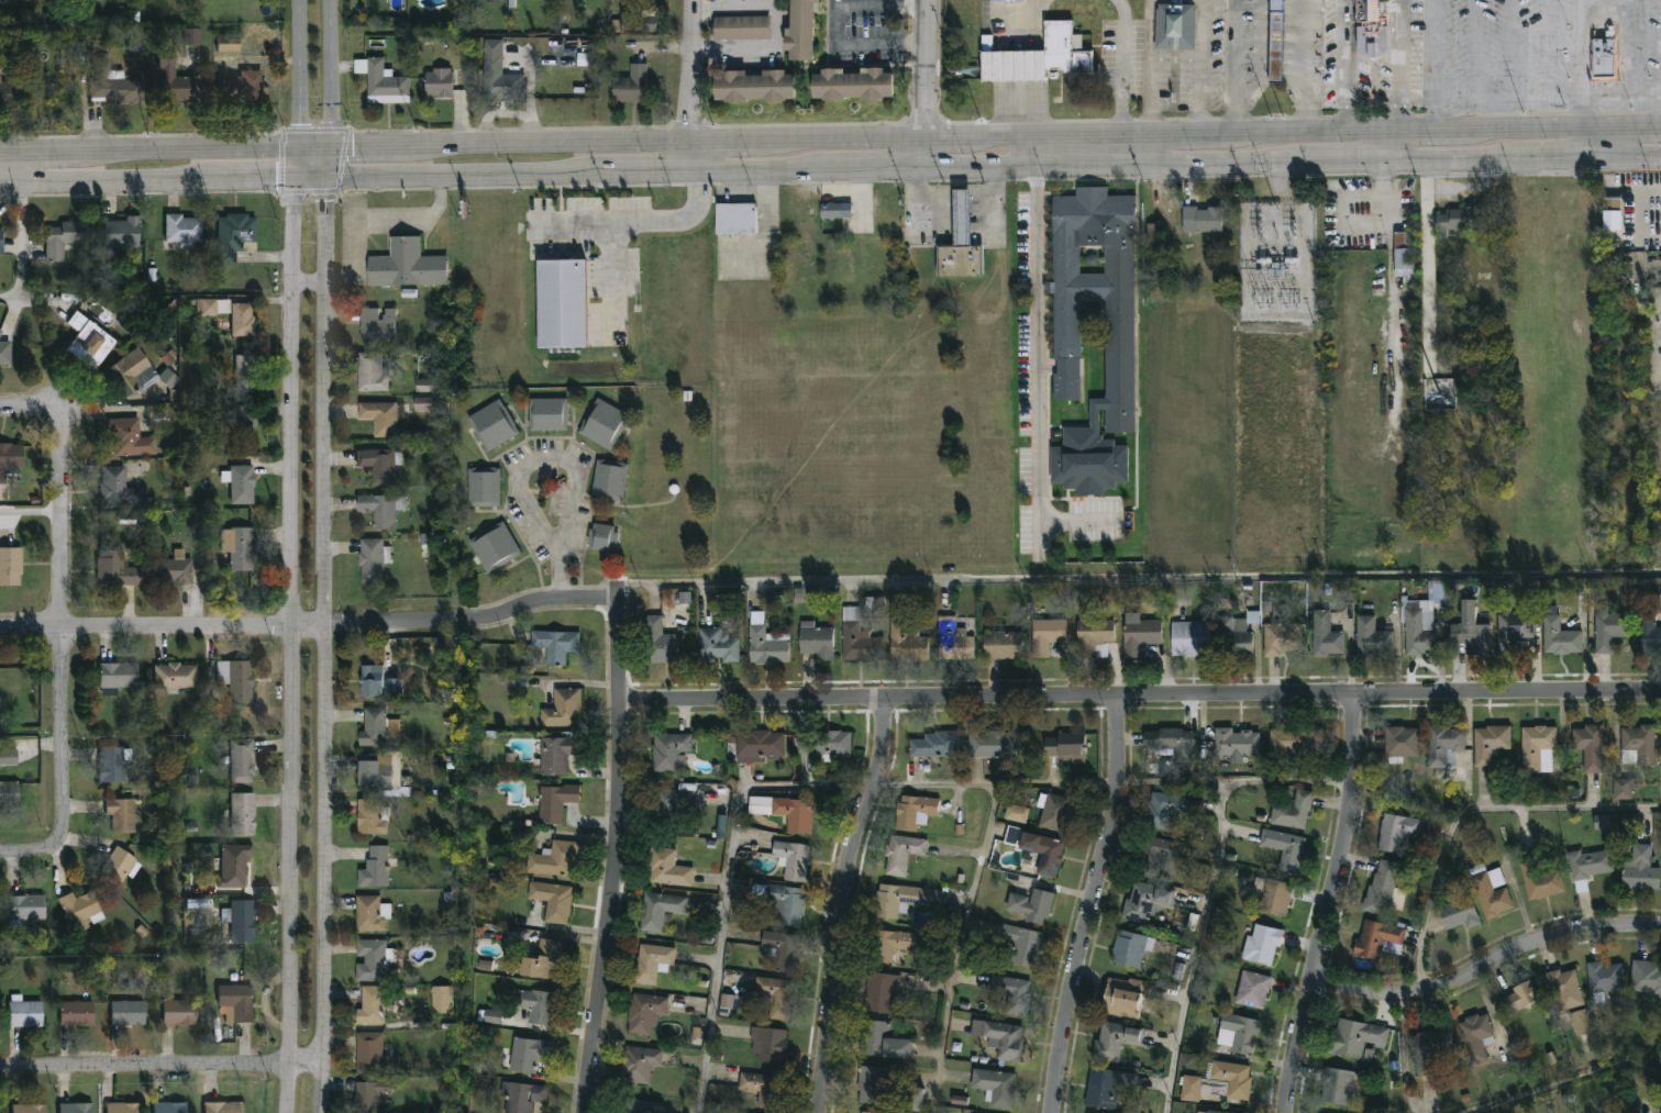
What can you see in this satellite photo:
building: (497, 0)
building: (1006, 1)
road: (1027, 15)
building: (649, 24)
road: (778, 26)
road: (835, 26)
building: (1173, 26)
building: (742, 29)
building: (800, 29)
building: (1370, 29)
building: (192, 36)
building: (1276, 41)
building: (231, 42)
road: (1630, 49)
road: (1550, 52)
road: (1435, 53)
road: (1475, 53)
road: (1514, 53)
building: (1602, 53)
building: (1041, 56)
parking lot: (1532, 56)
road: (1347, 65)
road: (1121, 66)
road: (1151, 66)
road: (1304, 66)
road: (1204, 67)
road: (1403, 67)
road: (1583, 67)
road: (1254, 68)
road: (299, 73)
road: (329, 73)
building: (502, 75)
building: (241, 79)
building: (113, 80)
building: (386, 81)
building: (443, 81)
building: (175, 82)
building: (851, 82)
road: (923, 84)
building: (629, 85)
road: (690, 85)
building: (753, 85)
building: (5, 88)
road: (1623, 100)
road: (1374, 101)
road: (1494, 105)
road: (1436, 119)
road: (1585, 129)
road: (1402, 130)
road: (995, 136)
traffic signals: (330, 146)
traffic signals: (299, 147)
road: (165, 149)
road: (1623, 155)
road: (1555, 156)
road: (1454, 158)
road: (1342, 159)
road: (328, 160)
road: (297, 162)
road: (1109, 164)
road: (875, 167)
road: (762, 169)
road: (649, 170)
road: (451, 172)
traffic signals: (295, 176)
traffic signals: (326, 176)
road: (262, 177)
road: (113, 180)
road: (1277, 181)
road: (1386, 192)
building: (837, 210)
road: (373, 214)
road: (954, 215)
building: (732, 218)
building: (1199, 219)
building: (1455, 221)
road: (643, 222)
building: (186, 230)
building: (124, 231)
building: (1610, 231)
building: (237, 235)
building: (1154, 236)
building: (64, 237)
building: (2, 241)
building: (957, 242)
parking lot: (594, 244)
road: (22, 249)
building: (1403, 252)
building: (410, 265)
road: (310, 279)
building: (1094, 294)
building: (562, 303)
building: (213, 307)
road: (1269, 309)
building: (245, 319)
building: (381, 324)
building: (1, 332)
building: (92, 337)
road: (1039, 348)
building: (7, 353)
building: (132, 372)
building: (248, 372)
building: (375, 372)
building: (427, 385)
building: (423, 404)
road: (34, 405)
building: (552, 413)
building: (386, 416)
building: (604, 423)
building: (497, 424)
building: (247, 425)
building: (132, 437)
road: (523, 456)
building: (11, 458)
building: (383, 464)
building: (610, 480)
building: (244, 483)
building: (487, 487)
building: (121, 488)
building: (385, 509)
building: (1618, 509)
road: (33, 511)
building: (602, 537)
building: (241, 546)
building: (498, 547)
building: (376, 559)
building: (11, 566)
building: (120, 568)
building: (177, 569)
road: (65, 621)
building: (1421, 621)
road: (313, 625)
building: (1609, 628)
building: (1470, 631)
building: (1510, 631)
building: (1647, 631)
building: (1138, 634)
building: (1045, 635)
building: (1234, 635)
building: (1324, 635)
building: (1095, 636)
building: (1558, 636)
building: (1372, 637)
building: (856, 638)
building: (1188, 638)
building: (1280, 638)
building: (904, 639)
building: (952, 641)
building: (657, 642)
building: (815, 642)
building: (764, 643)
road: (292, 644)
road: (325, 644)
building: (1001, 644)
building: (560, 645)
building: (718, 646)
building: (178, 675)
building: (120, 676)
building: (240, 679)
building: (383, 682)
road: (1141, 697)
building: (566, 709)
building: (380, 727)
building: (1294, 739)
building: (1660, 739)
building: (1234, 742)
building: (1169, 743)
building: (817, 744)
building: (1399, 744)
building: (1488, 744)
building: (757, 745)
building: (934, 745)
building: (992, 745)
building: (1063, 746)
building: (1442, 746)
building: (1637, 746)
building: (1588, 747)
building: (1536, 748)
building: (669, 750)
building: (561, 754)
building: (8, 756)
building: (244, 759)
building: (115, 763)
building: (384, 770)
road: (994, 782)
building: (1621, 789)
building: (10, 793)
building: (558, 802)
building: (668, 806)
building: (1161, 810)
road: (1468, 810)
building: (1292, 811)
building: (912, 812)
building: (1053, 812)
building: (1017, 813)
building: (124, 814)
building: (246, 814)
building: (793, 815)
building: (375, 816)
building: (1603, 822)
building: (1395, 832)
building: (1012, 835)
building: (1283, 848)
road: (40, 850)
building: (1041, 853)
building: (901, 854)
road: (617, 856)
building: (1154, 856)
building: (557, 859)
building: (790, 859)
building: (234, 865)
building: (122, 866)
building: (1586, 867)
building: (378, 868)
building: (666, 868)
building: (1639, 870)
building: (1539, 882)
road: (723, 887)
building: (1380, 888)
road: (1209, 889)
building: (1491, 893)
building: (1271, 897)
building: (901, 900)
building: (556, 901)
building: (780, 902)
building: (1144, 902)
road: (843, 903)
road: (1093, 904)
road: (1327, 904)
building: (1030, 905)
building: (27, 908)
building: (84, 910)
building: (660, 911)
building: (1458, 912)
building: (374, 913)
building: (243, 921)
building: (1377, 941)
building: (1018, 943)
building: (892, 944)
building: (1261, 945)
road: (961, 947)
building: (1130, 948)
building: (780, 949)
building: (377, 960)
building: (550, 960)
building: (651, 962)
road: (1487, 965)
building: (1646, 978)
building: (1603, 979)
building: (1251, 990)
building: (1562, 990)
building: (879, 993)
building: (1011, 993)
building: (776, 997)
building: (1121, 997)
building: (1519, 998)
building: (445, 1000)
building: (727, 1001)
building: (240, 1003)
building: (375, 1005)
building: (542, 1005)
building: (27, 1012)
building: (79, 1012)
building: (182, 1012)
building: (645, 1012)
building: (131, 1013)
building: (494, 1015)
building: (1580, 1023)
building: (1239, 1033)
building: (1475, 1035)
building: (1353, 1038)
building: (1003, 1040)
building: (1114, 1040)
building: (879, 1042)
building: (766, 1045)
building: (1429, 1047)
building: (375, 1053)
building: (532, 1055)
building: (638, 1064)
road: (162, 1065)
building: (1231, 1079)
building: (871, 1084)
road: (1565, 1084)
building: (993, 1087)
building: (1337, 1087)
building: (1105, 1088)
building: (762, 1089)
building: (1188, 1089)
building: (374, 1094)
building: (524, 1097)
building: (908, 1100)
building: (226, 1106)
building: (639, 1106)
building: (76, 1108)
building: (173, 1108)
building: (29, 1109)
building: (863, 1112)
building: (1208, 1112)

